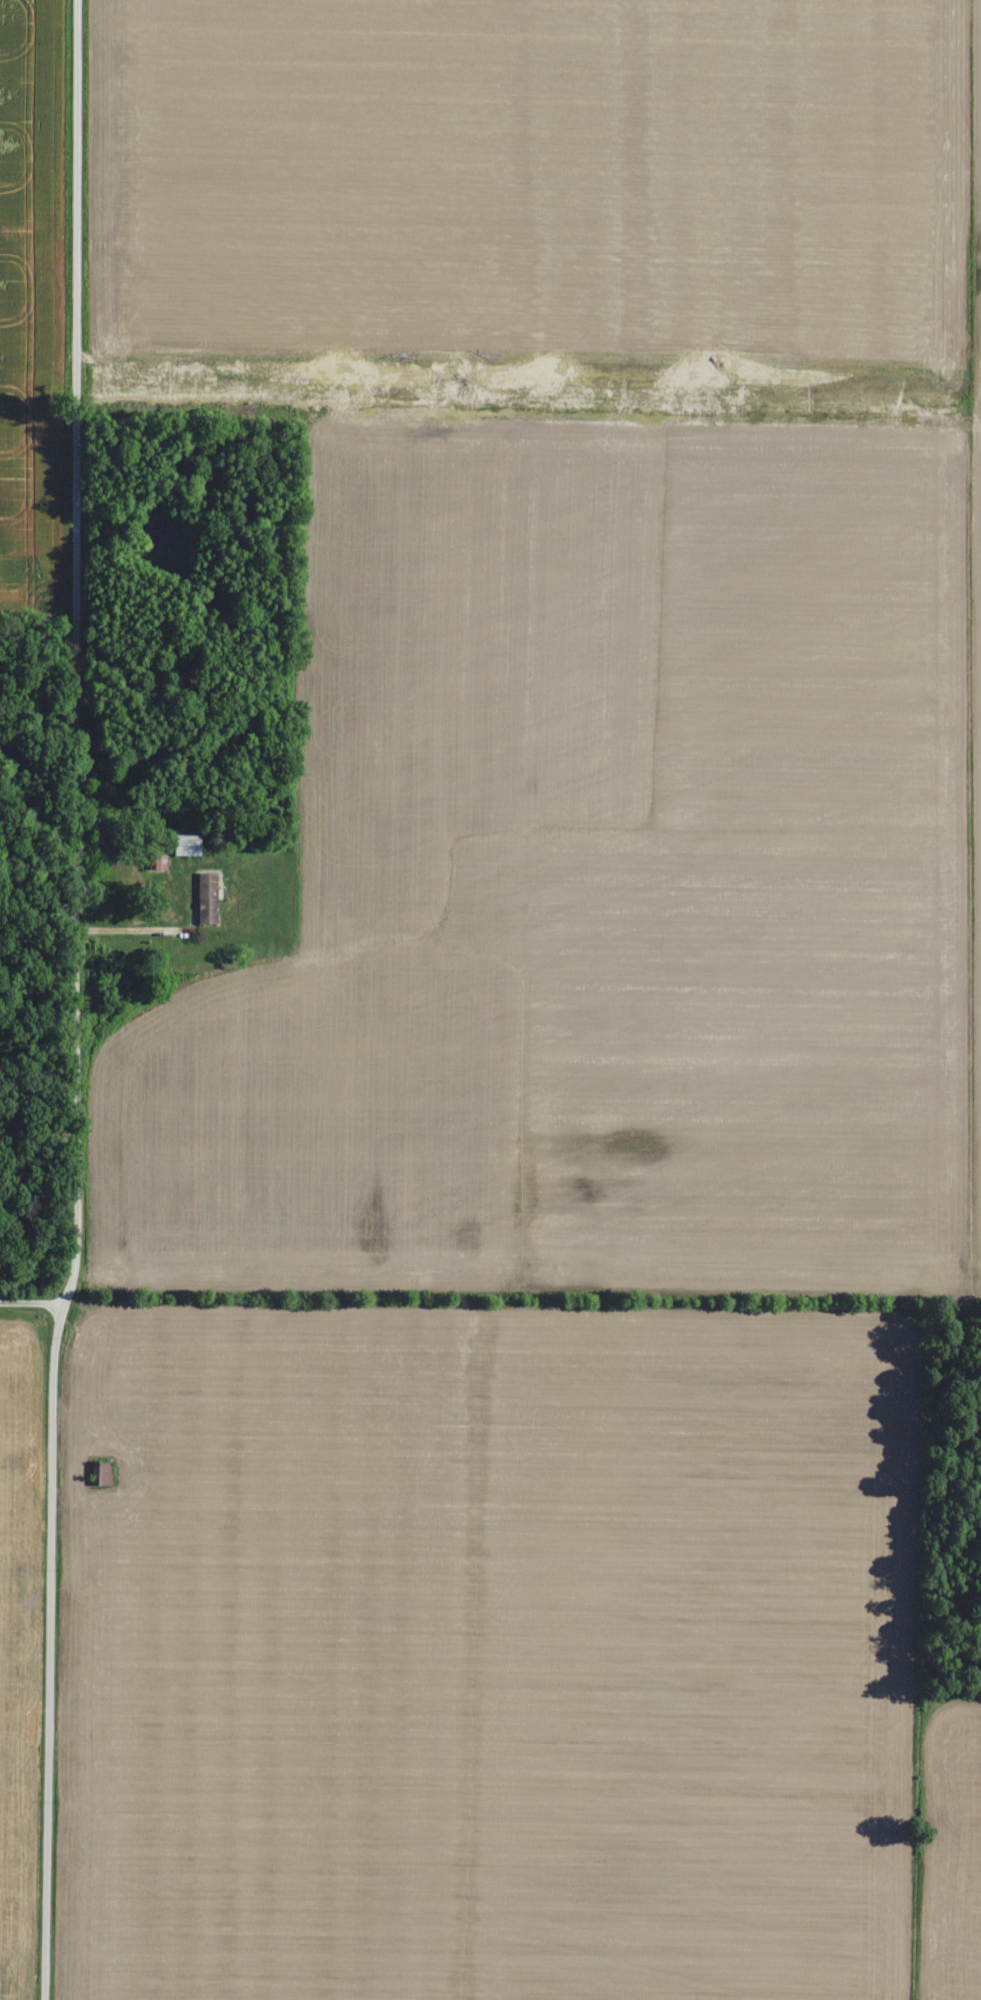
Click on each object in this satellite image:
building: (191, 845)
road: (75, 859)
building: (211, 898)
road: (29, 1304)
road: (45, 1857)

